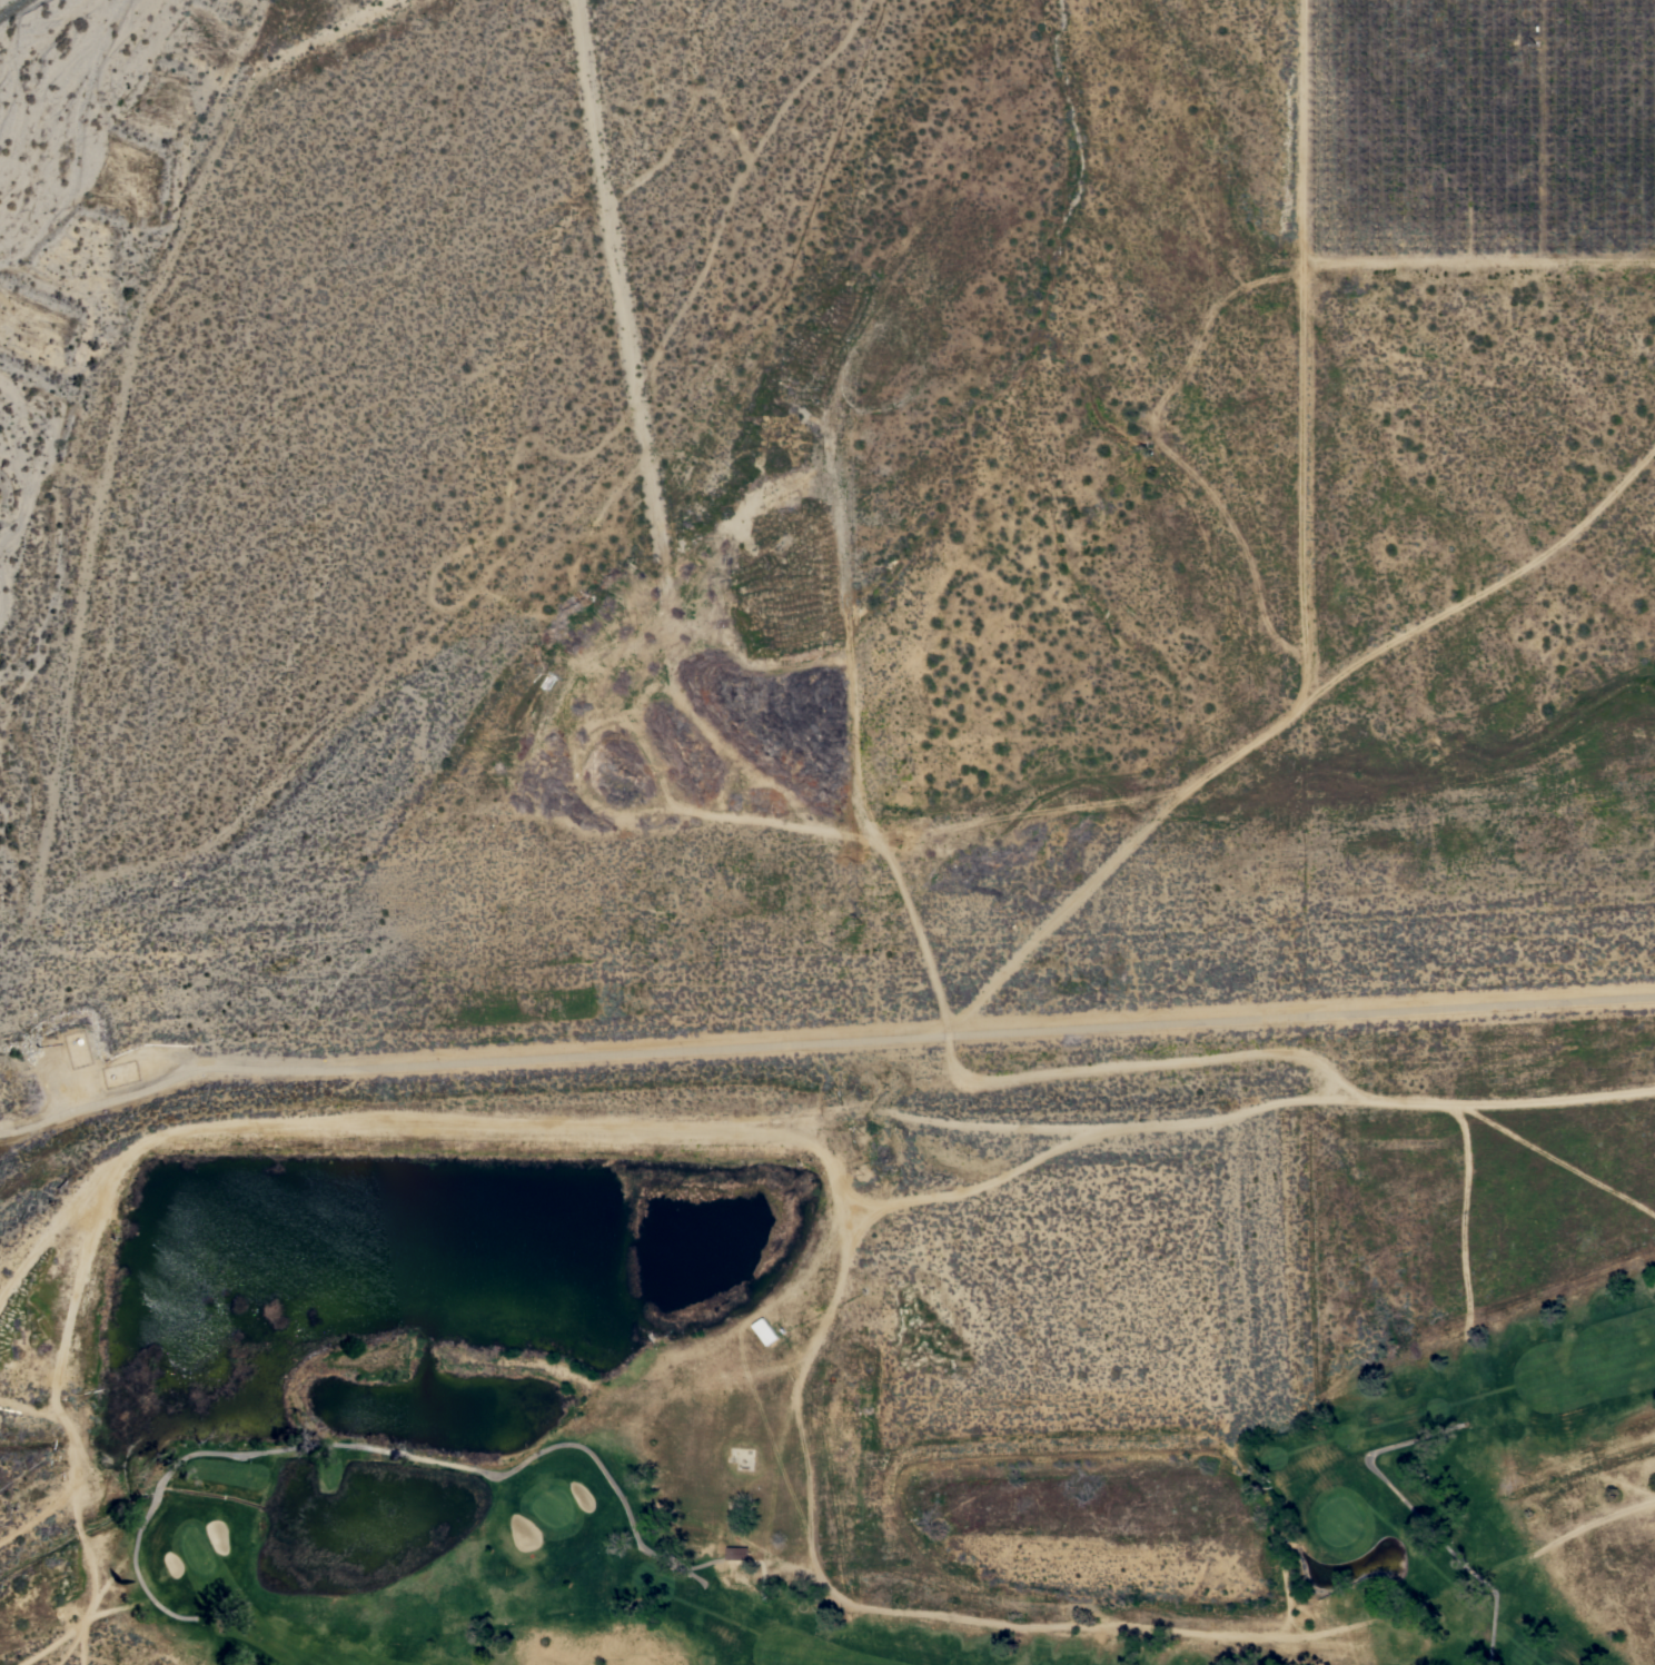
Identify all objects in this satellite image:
crop: (1476, 132)
road: (803, 723)
road: (849, 1267)
building: (764, 1331)
park: (750, 1445)
building: (736, 1553)

